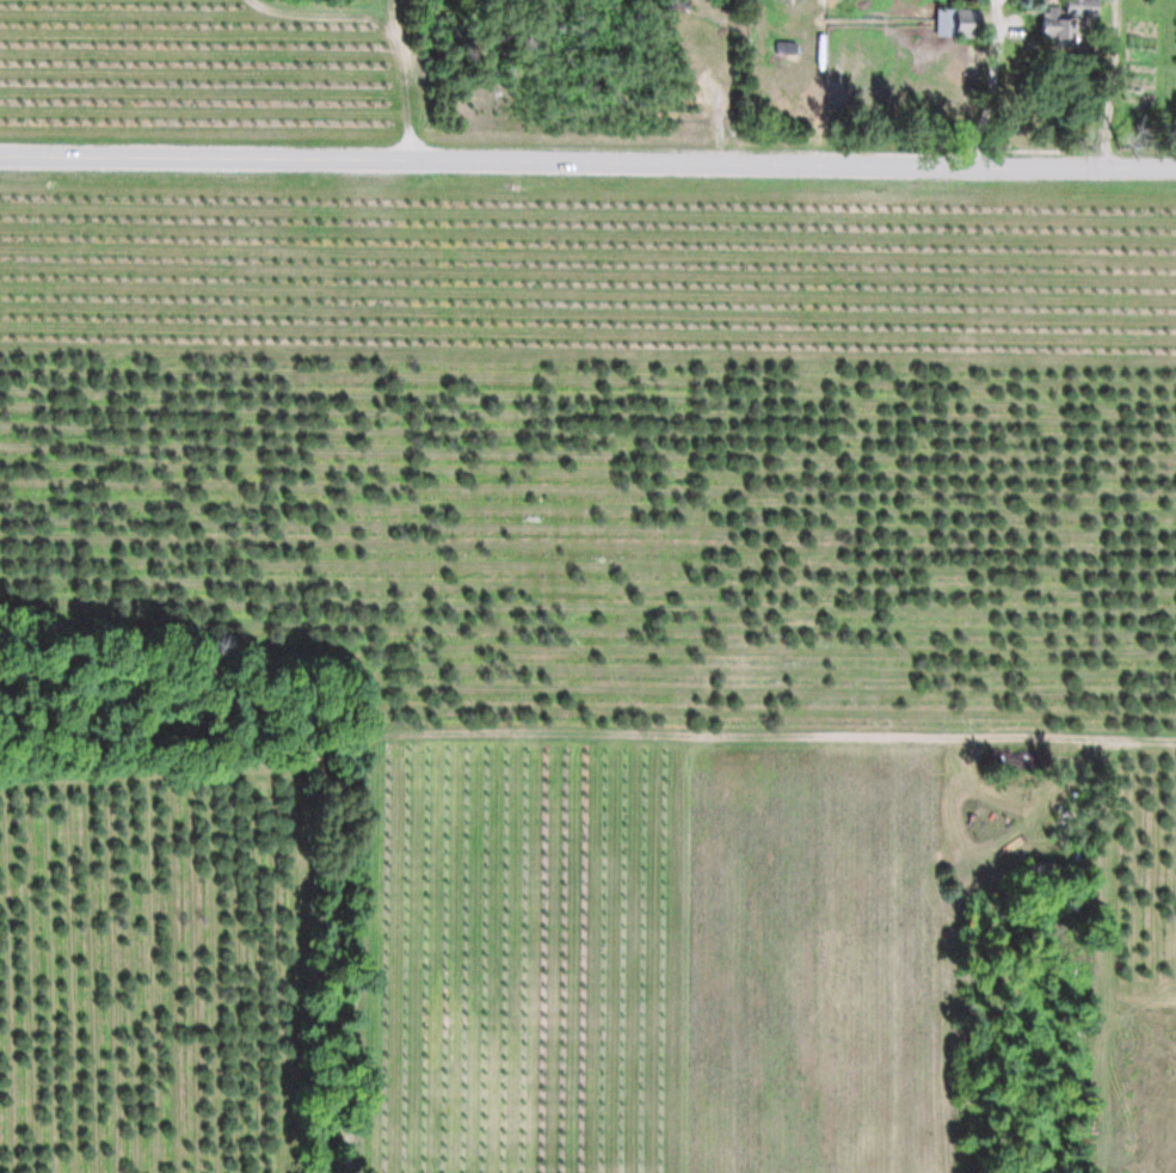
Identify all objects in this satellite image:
building: (1084, 8)
building: (949, 22)
building: (1051, 24)
road: (587, 162)

